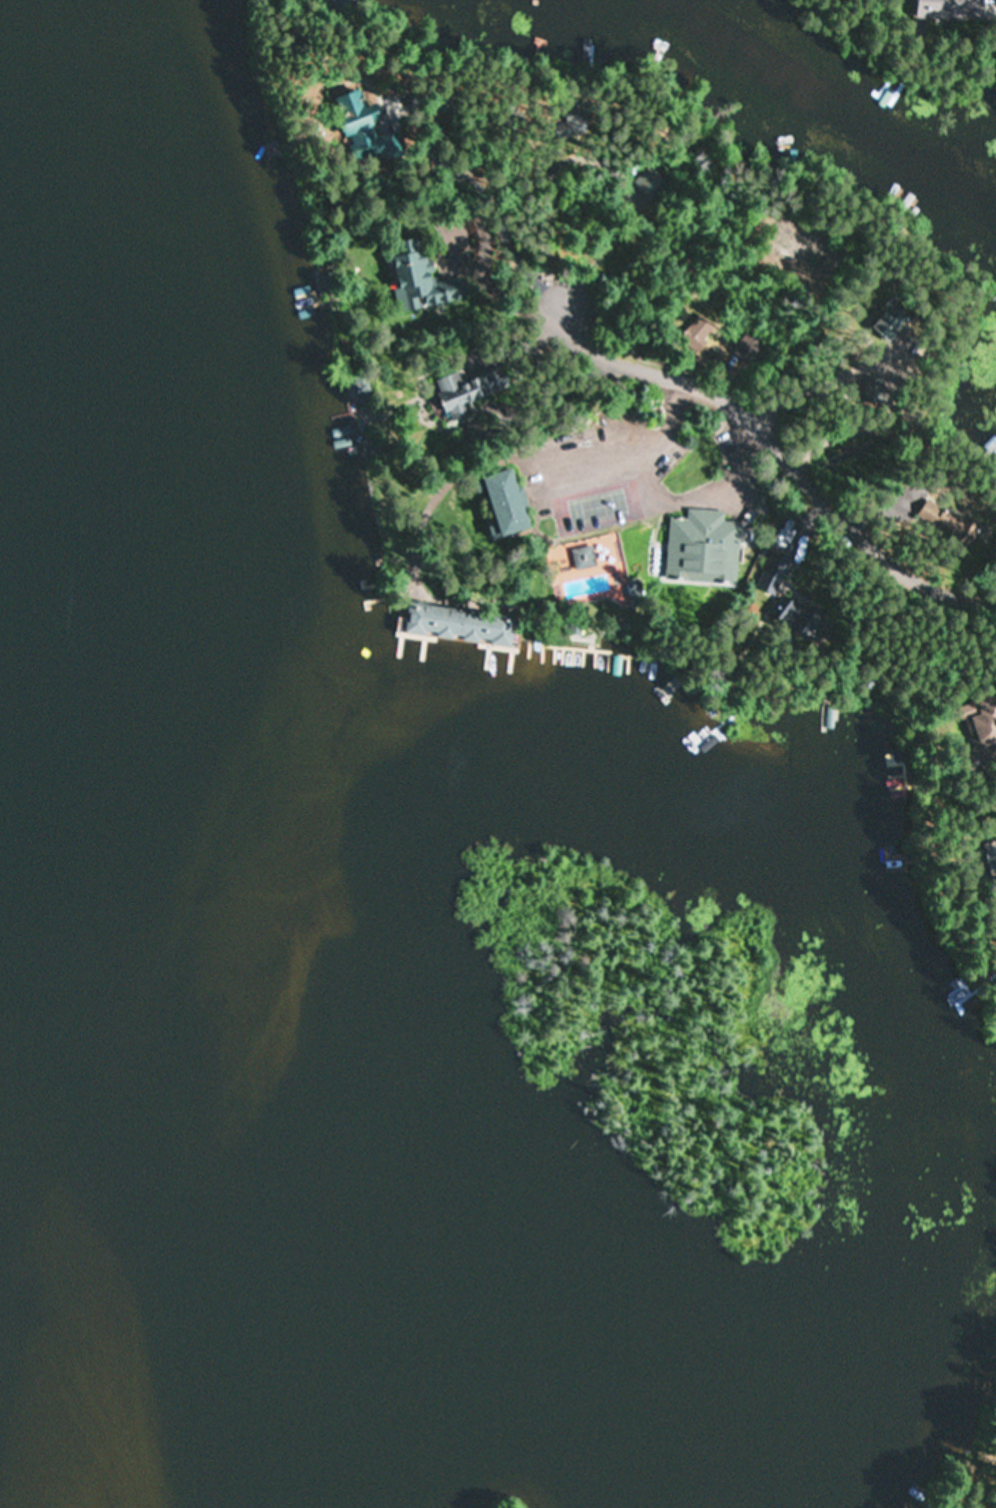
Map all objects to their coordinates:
building: (943, 9)
building: (358, 125)
building: (564, 130)
building: (650, 182)
building: (420, 279)
building: (330, 288)
building: (890, 324)
building: (872, 390)
building: (461, 394)
road: (773, 452)
building: (506, 501)
building: (942, 517)
building: (725, 555)
building: (584, 556)
building: (774, 572)
building: (790, 609)
building: (458, 623)
building: (982, 720)
river: (53, 1443)

